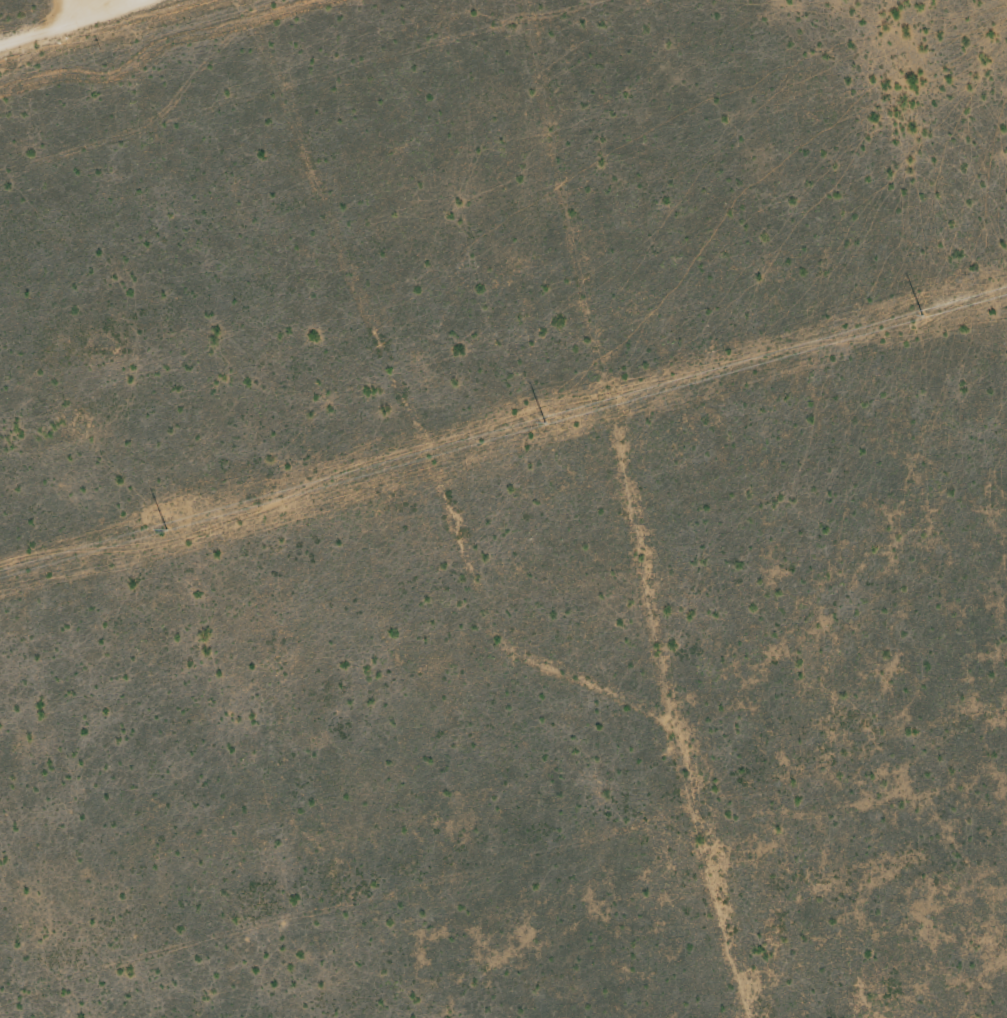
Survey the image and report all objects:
road: (74, 21)
power tower: (915, 312)
power tower: (538, 420)
power tower: (160, 525)

